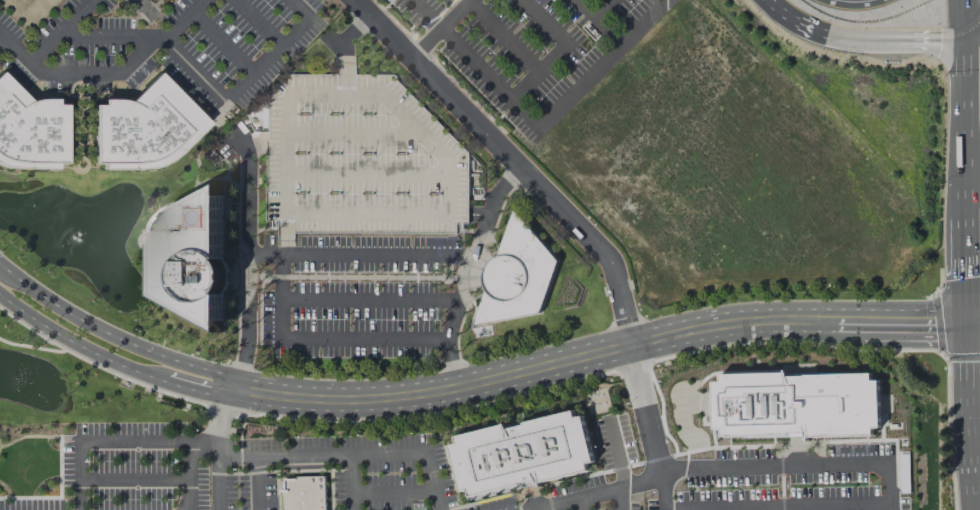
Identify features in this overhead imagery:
building: (389, 0)
parking garage: (389, 0)
road: (143, 7)
road: (782, 11)
road: (455, 14)
road: (596, 17)
road: (961, 19)
road: (257, 22)
road: (610, 31)
road: (971, 33)
road: (0, 35)
road: (106, 35)
road: (502, 35)
road: (344, 39)
road: (877, 39)
traffic signals: (940, 39)
road: (222, 42)
road: (426, 43)
road: (46, 45)
parking lot: (533, 48)
road: (558, 50)
road: (101, 72)
road: (223, 101)
road: (79, 112)
road: (963, 123)
road: (539, 127)
building: (143, 128)
building: (30, 130)
road: (86, 137)
road: (78, 152)
building: (360, 158)
parking garage: (360, 158)
road: (75, 159)
road: (512, 161)
road: (509, 179)
road: (480, 208)
road: (245, 241)
road: (259, 252)
road: (279, 253)
building: (193, 259)
road: (964, 266)
building: (517, 276)
traffic signals: (965, 277)
road: (467, 284)
road: (973, 322)
road: (919, 324)
traffic signals: (940, 324)
road: (111, 335)
road: (342, 339)
road: (79, 344)
road: (552, 365)
road: (457, 368)
road: (238, 369)
road: (199, 388)
road: (968, 395)
road: (647, 404)
building: (795, 404)
road: (224, 412)
road: (99, 442)
road: (351, 453)
building: (522, 453)
road: (189, 461)
road: (665, 464)
road: (799, 465)
road: (59, 466)
road: (217, 473)
road: (134, 479)
road: (642, 481)
road: (351, 482)
road: (255, 484)
road: (669, 487)
road: (5, 489)
road: (970, 489)
road: (393, 492)
building: (304, 493)
road: (584, 495)
road: (581, 503)
road: (542, 508)

